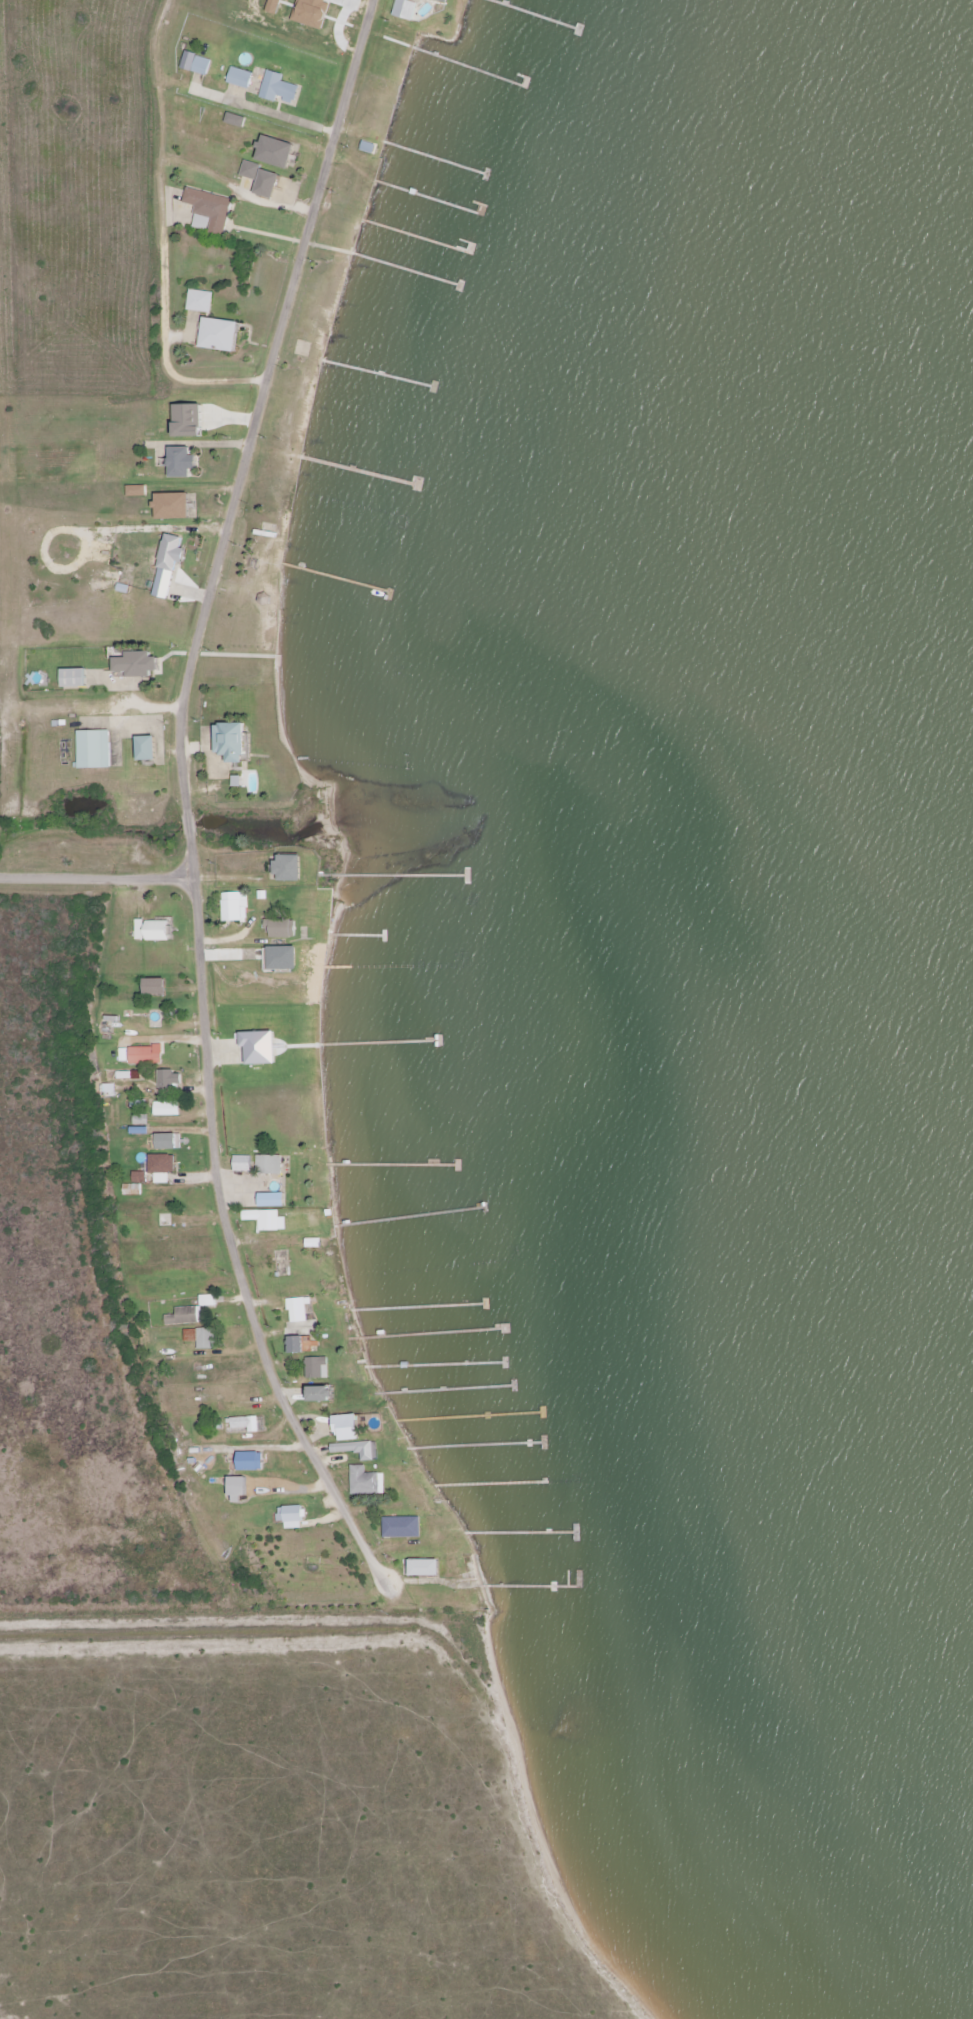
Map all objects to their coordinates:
building: (444, 0)
building: (274, 6)
building: (405, 9)
building: (312, 12)
pier: (534, 15)
building: (196, 63)
pier: (468, 67)
building: (240, 78)
building: (279, 88)
building: (236, 120)
building: (277, 151)
pier: (434, 157)
building: (252, 170)
building: (268, 183)
pier: (426, 198)
building: (210, 210)
road: (162, 234)
pier: (415, 236)
pier: (404, 269)
building: (201, 301)
building: (222, 334)
pier: (378, 373)
building: (191, 420)
building: (184, 462)
pier: (358, 472)
building: (137, 491)
building: (174, 506)
building: (169, 565)
pier: (340, 578)
building: (138, 665)
building: (76, 679)
building: (233, 742)
building: (149, 749)
building: (95, 750)
road: (187, 801)
building: (290, 868)
road: (97, 874)
pier: (395, 875)
building: (235, 906)
building: (281, 928)
building: (154, 930)
pier: (359, 936)
building: (284, 957)
pier: (337, 966)
building: (157, 986)
pier: (381, 1043)
building: (261, 1047)
building: (146, 1054)
building: (171, 1079)
building: (167, 1109)
building: (142, 1120)
building: (170, 1141)
building: (243, 1163)
building: (270, 1164)
pier: (392, 1165)
building: (163, 1167)
pier: (457, 1167)
building: (140, 1177)
building: (132, 1190)
building: (273, 1200)
pier: (409, 1217)
building: (266, 1220)
pier: (484, 1305)
pier: (417, 1308)
building: (299, 1310)
building: (184, 1316)
pier: (432, 1333)
building: (206, 1339)
building: (297, 1345)
pier: (504, 1362)
pier: (434, 1364)
building: (317, 1367)
pier: (514, 1383)
pier: (449, 1390)
building: (324, 1394)
pier: (543, 1412)
pier: (469, 1417)
building: (245, 1423)
building: (349, 1427)
pier: (480, 1445)
pier: (544, 1446)
building: (356, 1450)
building: (251, 1461)
building: (366, 1481)
pier: (488, 1485)
building: (239, 1490)
building: (293, 1517)
building: (402, 1527)
pier: (516, 1533)
pier: (576, 1533)
building: (425, 1568)
pier: (538, 1587)

